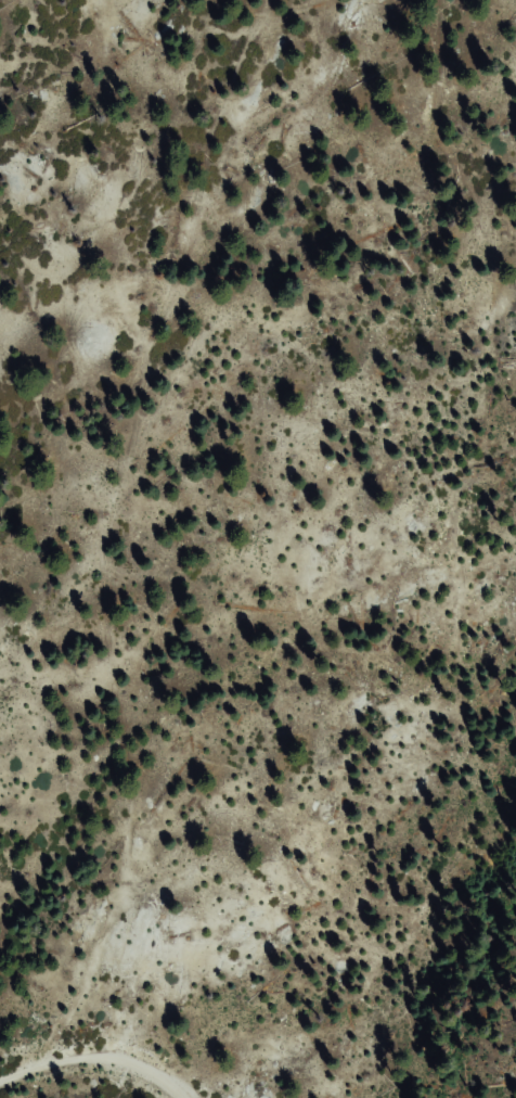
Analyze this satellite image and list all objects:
road: (101, 1057)

